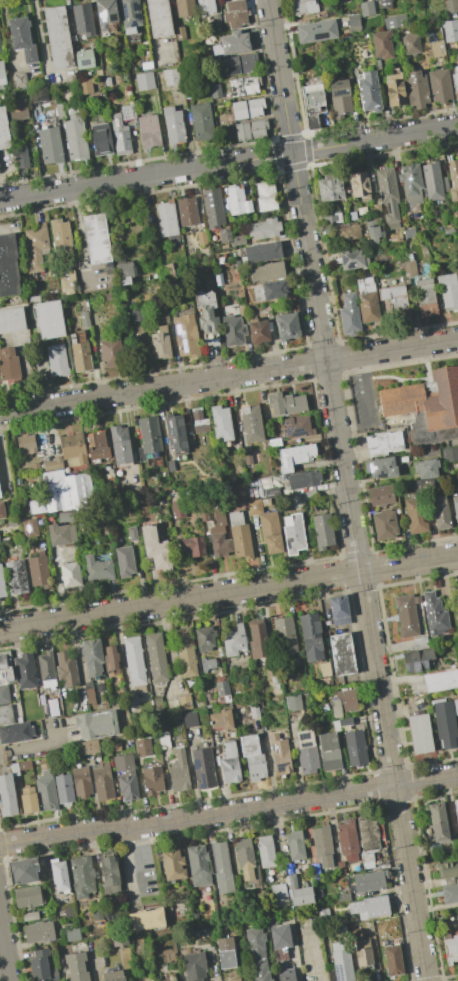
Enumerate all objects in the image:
building: (295, 1)
building: (384, 3)
building: (206, 5)
building: (450, 6)
building: (184, 7)
building: (303, 7)
rooftop solar panel: (135, 8)
building: (366, 8)
rooftop solar panel: (125, 12)
building: (105, 13)
building: (234, 13)
building: (128, 14)
rooftop solar panel: (137, 16)
building: (82, 18)
building: (158, 18)
building: (394, 21)
building: (352, 22)
rooftop solar panel: (133, 24)
building: (315, 30)
building: (450, 30)
building: (178, 33)
building: (57, 35)
rooftop solar panel: (320, 35)
building: (21, 38)
building: (410, 42)
building: (231, 43)
building: (381, 44)
building: (437, 49)
building: (83, 58)
rooftop solar panel: (85, 62)
building: (239, 63)
building: (1, 74)
building: (169, 76)
building: (19, 80)
building: (106, 80)
building: (143, 80)
building: (455, 82)
building: (244, 85)
building: (439, 85)
building: (83, 86)
building: (415, 88)
building: (393, 89)
building: (368, 90)
building: (37, 94)
rooftop solar panel: (339, 94)
building: (339, 97)
building: (312, 104)
building: (246, 108)
building: (16, 110)
building: (58, 110)
building: (126, 112)
rooftop solar panel: (130, 113)
rooftop solar panel: (125, 114)
building: (200, 121)
building: (172, 125)
building: (250, 129)
building: (147, 130)
building: (3, 131)
building: (73, 133)
building: (119, 134)
building: (100, 138)
building: (49, 145)
building: (20, 156)
road: (228, 162)
building: (452, 178)
building: (433, 180)
building: (410, 183)
building: (358, 185)
building: (329, 188)
building: (387, 195)
building: (265, 196)
building: (235, 200)
building: (211, 207)
building: (186, 210)
building: (376, 210)
building: (325, 218)
building: (165, 219)
building: (263, 228)
building: (372, 230)
building: (59, 232)
building: (347, 232)
building: (223, 234)
road: (79, 237)
building: (200, 237)
building: (394, 237)
building: (96, 239)
building: (236, 239)
building: (35, 247)
building: (261, 251)
building: (352, 259)
building: (237, 263)
rooftop solar panel: (343, 263)
building: (7, 266)
rooftop solar panel: (351, 267)
building: (408, 268)
building: (166, 270)
building: (265, 271)
building: (123, 272)
building: (217, 278)
building: (66, 282)
building: (270, 290)
building: (448, 290)
building: (424, 296)
building: (366, 299)
building: (394, 299)
building: (205, 311)
building: (348, 314)
building: (11, 319)
building: (48, 319)
building: (83, 319)
building: (286, 325)
building: (232, 329)
building: (257, 330)
rooftop solar panel: (178, 333)
building: (184, 334)
building: (159, 343)
rooftop solar panel: (184, 345)
building: (79, 352)
building: (110, 352)
building: (56, 359)
building: (8, 363)
road: (228, 376)
building: (285, 403)
road: (368, 405)
building: (428, 408)
building: (198, 421)
building: (220, 422)
rooftop solar panel: (169, 423)
building: (250, 423)
building: (296, 426)
rooftop solar panel: (172, 429)
building: (174, 432)
building: (148, 436)
rooftop solar panel: (171, 440)
building: (273, 441)
building: (382, 442)
building: (24, 444)
building: (119, 445)
building: (98, 446)
building: (71, 449)
building: (449, 454)
building: (293, 456)
building: (245, 457)
building: (51, 463)
rooftop solar panel: (369, 464)
building: (169, 465)
building: (379, 467)
building: (425, 468)
rooftop solar panel: (381, 473)
building: (303, 478)
building: (421, 485)
building: (236, 488)
road: (347, 490)
building: (62, 492)
building: (270, 492)
building: (307, 495)
building: (380, 495)
building: (253, 506)
building: (455, 507)
building: (177, 509)
building: (1, 511)
building: (439, 512)
building: (414, 515)
building: (384, 524)
building: (28, 528)
building: (321, 530)
building: (269, 531)
building: (291, 532)
building: (131, 533)
building: (60, 534)
building: (238, 534)
building: (218, 537)
building: (192, 545)
building: (156, 549)
building: (123, 560)
building: (96, 567)
building: (37, 571)
building: (69, 574)
building: (15, 577)
building: (1, 587)
road: (229, 592)
building: (338, 609)
building: (434, 613)
building: (406, 614)
building: (284, 635)
building: (310, 635)
building: (203, 638)
building: (233, 639)
building: (257, 639)
building: (184, 652)
building: (341, 653)
building: (417, 655)
building: (91, 656)
building: (155, 657)
building: (110, 659)
building: (133, 663)
building: (206, 663)
building: (45, 666)
building: (65, 668)
building: (5, 669)
building: (322, 669)
building: (23, 671)
building: (440, 679)
building: (98, 687)
building: (220, 691)
building: (3, 694)
building: (89, 696)
building: (183, 702)
building: (292, 702)
building: (343, 702)
building: (51, 706)
building: (253, 709)
building: (44, 710)
building: (5, 714)
building: (189, 719)
building: (220, 719)
building: (345, 721)
building: (446, 722)
building: (95, 723)
building: (335, 725)
building: (15, 732)
building: (419, 733)
building: (162, 740)
building: (86, 747)
building: (142, 747)
road: (28, 748)
building: (354, 748)
building: (306, 751)
building: (328, 751)
building: (278, 754)
building: (251, 757)
building: (121, 762)
building: (229, 763)
building: (24, 764)
building: (202, 767)
building: (14, 769)
building: (177, 772)
building: (151, 779)
building: (101, 781)
building: (80, 782)
building: (127, 787)
building: (63, 789)
building: (45, 790)
building: (6, 796)
building: (27, 799)
building: (456, 810)
road: (229, 811)
building: (437, 822)
building: (368, 834)
building: (348, 840)
building: (296, 845)
building: (323, 847)
building: (266, 852)
building: (366, 857)
building: (245, 858)
building: (173, 865)
building: (368, 865)
building: (199, 866)
building: (222, 868)
building: (315, 869)
building: (447, 869)
building: (22, 871)
building: (110, 872)
building: (60, 876)
building: (82, 876)
building: (370, 881)
building: (278, 892)
building: (297, 892)
building: (449, 892)
building: (28, 898)
building: (370, 907)
building: (97, 915)
building: (30, 916)
building: (146, 919)
building: (39, 932)
building: (71, 934)
building: (281, 936)
building: (119, 939)
building: (255, 944)
building: (450, 947)
building: (363, 953)
building: (225, 954)
road: (3, 957)
building: (393, 960)
building: (342, 961)
building: (195, 965)
building: (40, 966)
building: (76, 967)
building: (260, 972)
building: (285, 974)
rooftop solar panel: (338, 974)
building: (113, 976)
building: (195, 979)
building: (235, 979)
building: (174, 980)

